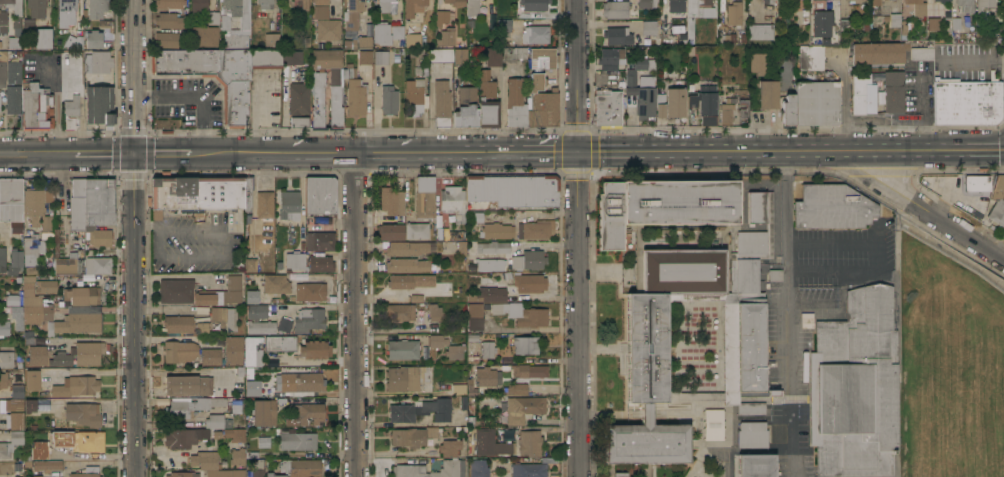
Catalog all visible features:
building: (767, 0)
building: (939, 0)
building: (772, 1)
building: (854, 1)
building: (455, 2)
building: (707, 2)
building: (875, 2)
building: (169, 3)
building: (646, 3)
building: (265, 4)
building: (303, 4)
building: (534, 4)
building: (199, 5)
building: (384, 5)
building: (675, 5)
building: (965, 5)
building: (13, 6)
building: (67, 7)
building: (414, 7)
building: (473, 7)
building: (917, 7)
building: (36, 8)
building: (96, 8)
building: (321, 9)
building: (615, 9)
building: (354, 14)
building: (734, 14)
building: (982, 15)
building: (442, 17)
building: (213, 18)
building: (820, 19)
building: (895, 20)
building: (3, 21)
building: (170, 21)
building: (224, 23)
building: (244, 23)
building: (933, 23)
building: (845, 24)
building: (504, 25)
building: (955, 26)
building: (649, 27)
building: (328, 29)
building: (761, 31)
building: (386, 33)
building: (535, 34)
building: (618, 35)
building: (204, 36)
building: (446, 37)
building: (43, 38)
building: (93, 39)
building: (167, 39)
building: (72, 40)
building: (271, 40)
building: (14, 41)
building: (412, 41)
building: (364, 42)
building: (514, 52)
building: (879, 52)
building: (922, 53)
building: (441, 55)
building: (460, 56)
building: (492, 56)
building: (292, 57)
building: (365, 57)
building: (381, 57)
building: (811, 57)
building: (265, 58)
building: (327, 58)
building: (542, 58)
road: (971, 58)
building: (611, 59)
building: (97, 61)
building: (758, 63)
building: (422, 67)
building: (2, 68)
building: (14, 72)
building: (212, 75)
building: (640, 90)
building: (892, 90)
building: (354, 91)
building: (768, 94)
building: (862, 94)
road: (195, 96)
building: (334, 96)
building: (414, 96)
building: (13, 99)
building: (298, 99)
building: (389, 99)
building: (672, 100)
building: (487, 101)
building: (967, 101)
building: (515, 103)
building: (816, 103)
building: (99, 104)
building: (441, 104)
building: (542, 104)
building: (705, 104)
building: (71, 106)
building: (35, 107)
building: (608, 107)
building: (466, 108)
building: (788, 110)
building: (725, 114)
building: (67, 122)
building: (300, 122)
road: (791, 151)
road: (437, 153)
road: (240, 154)
road: (37, 155)
road: (104, 155)
road: (159, 155)
building: (977, 183)
building: (511, 191)
building: (247, 192)
building: (197, 193)
building: (320, 195)
building: (425, 198)
building: (11, 200)
building: (997, 200)
building: (99, 201)
building: (391, 201)
building: (453, 201)
building: (77, 204)
building: (264, 204)
building: (289, 205)
building: (832, 207)
building: (37, 210)
road: (932, 213)
road: (534, 214)
road: (148, 223)
building: (417, 230)
building: (535, 230)
building: (496, 231)
building: (391, 232)
building: (442, 233)
building: (98, 234)
road: (135, 238)
road: (578, 238)
building: (320, 241)
building: (56, 242)
building: (493, 247)
building: (409, 248)
building: (30, 250)
building: (881, 251)
road: (223, 256)
building: (828, 258)
building: (2, 259)
building: (295, 260)
building: (527, 260)
building: (15, 262)
building: (249, 262)
building: (68, 264)
building: (320, 264)
building: (490, 264)
building: (97, 265)
building: (407, 265)
road: (786, 266)
building: (34, 269)
building: (774, 275)
building: (404, 281)
building: (275, 283)
building: (529, 283)
building: (45, 286)
building: (311, 291)
building: (199, 292)
building: (818, 293)
building: (489, 294)
building: (84, 296)
building: (251, 296)
building: (12, 300)
building: (34, 303)
building: (257, 311)
building: (399, 312)
building: (434, 313)
building: (521, 313)
road: (356, 315)
building: (17, 316)
building: (475, 316)
building: (225, 317)
building: (309, 319)
building: (77, 320)
building: (178, 323)
building: (284, 325)
building: (4, 327)
building: (261, 327)
building: (202, 328)
building: (743, 331)
building: (28, 338)
building: (280, 343)
building: (436, 343)
building: (525, 344)
building: (314, 349)
building: (403, 349)
building: (488, 349)
building: (234, 350)
building: (179, 351)
building: (252, 351)
building: (455, 351)
building: (88, 353)
building: (48, 357)
building: (211, 357)
building: (6, 359)
building: (529, 370)
building: (487, 377)
building: (4, 379)
building: (402, 379)
building: (33, 380)
building: (307, 382)
building: (187, 385)
building: (75, 386)
building: (471, 387)
building: (855, 387)
building: (251, 388)
building: (459, 389)
building: (515, 389)
building: (17, 391)
building: (217, 401)
building: (14, 404)
building: (31, 406)
building: (236, 406)
building: (186, 407)
building: (523, 408)
building: (421, 410)
building: (264, 413)
building: (82, 414)
building: (305, 415)
building: (15, 420)
building: (217, 421)
building: (713, 424)
building: (752, 434)
building: (16, 437)
building: (199, 437)
building: (413, 437)
building: (79, 440)
building: (297, 440)
building: (530, 442)
building: (489, 443)
building: (449, 447)
building: (4, 450)
building: (39, 450)
building: (237, 456)
building: (207, 460)
building: (46, 465)
building: (756, 465)
building: (408, 467)
building: (298, 468)
building: (478, 468)
building: (528, 469)
building: (87, 472)
building: (225, 473)
building: (257, 473)
building: (182, 474)
building: (619, 474)
building: (36, 476)

